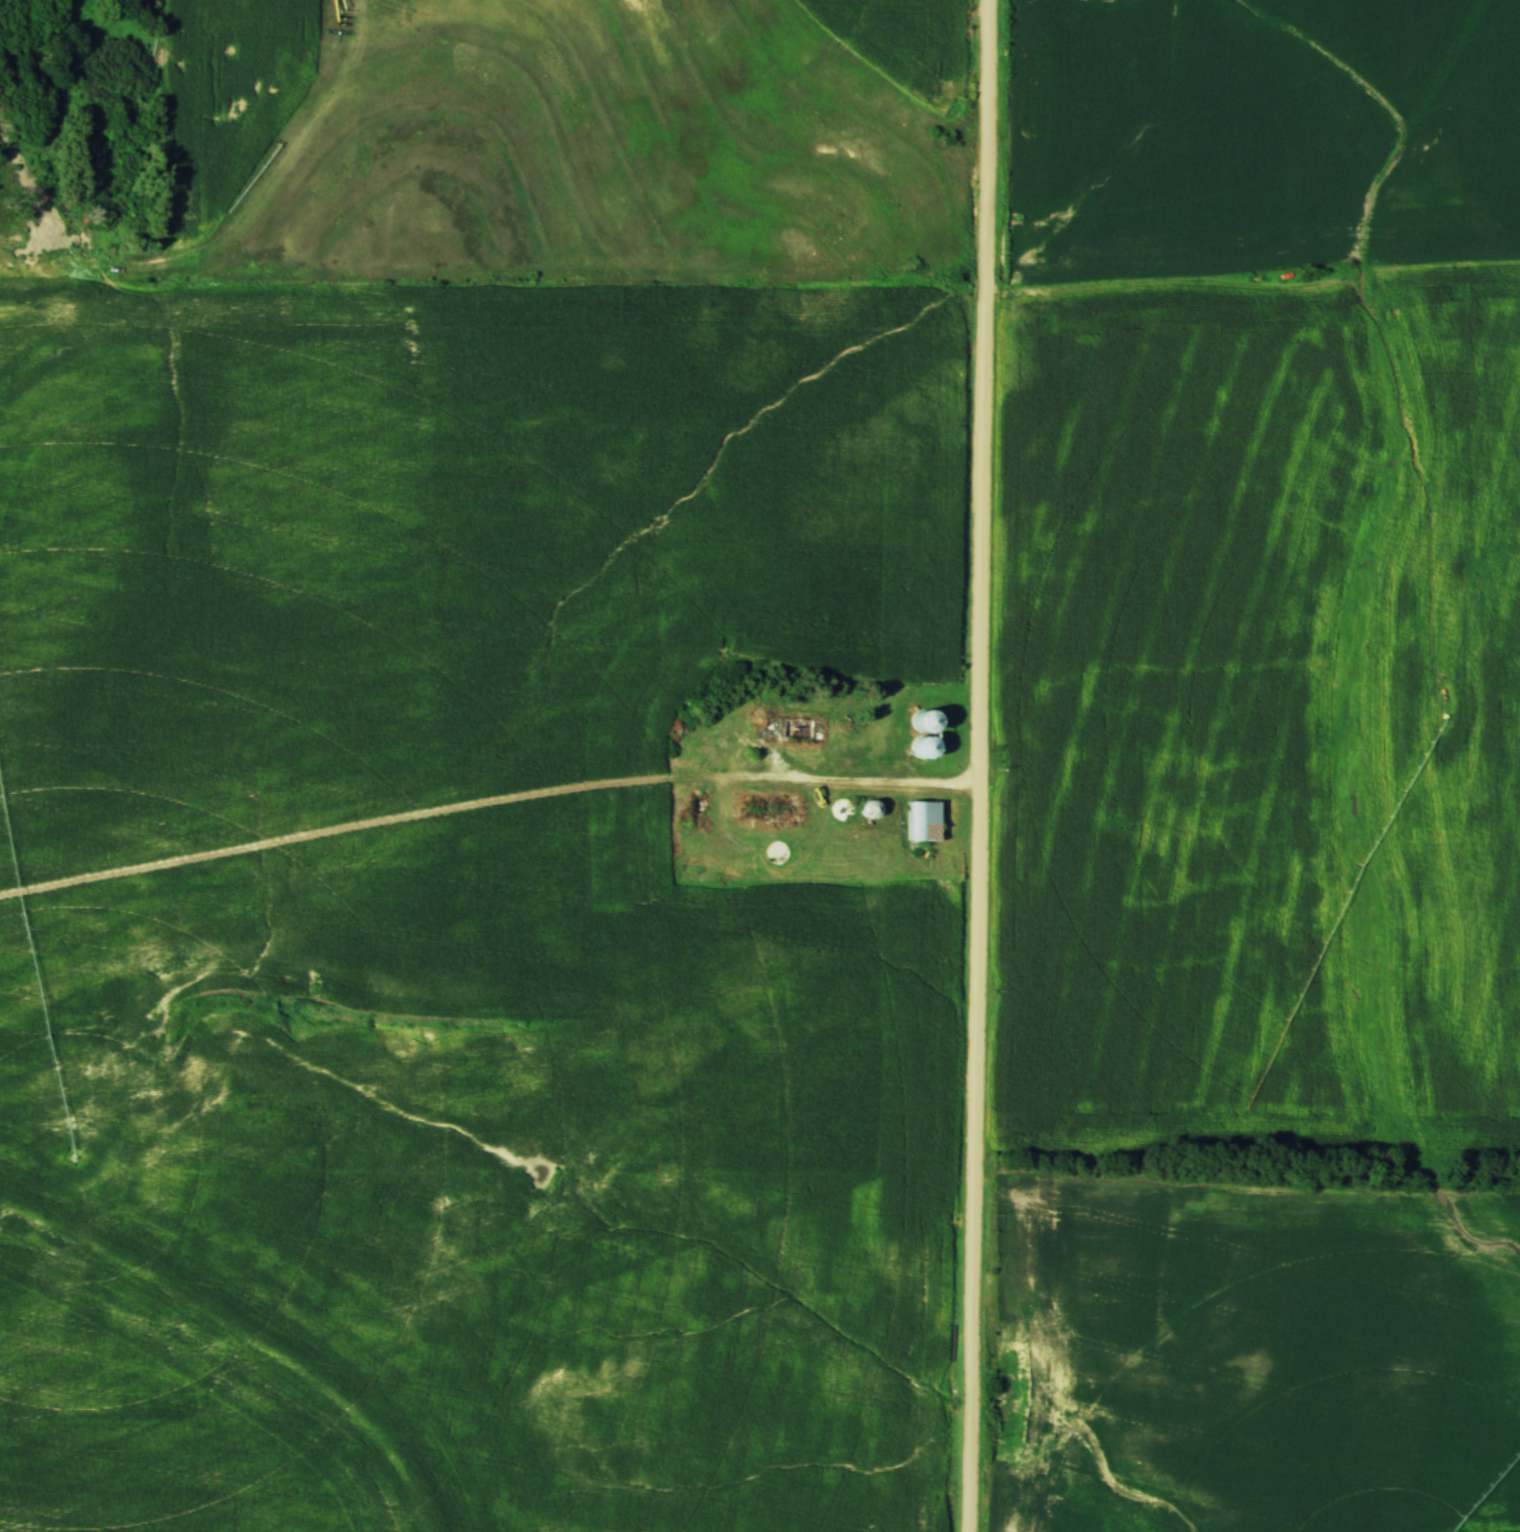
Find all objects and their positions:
building: (789, 729)
road: (982, 766)
road: (878, 780)
building: (867, 810)
building: (768, 811)
building: (839, 812)
building: (920, 822)
building: (773, 853)

